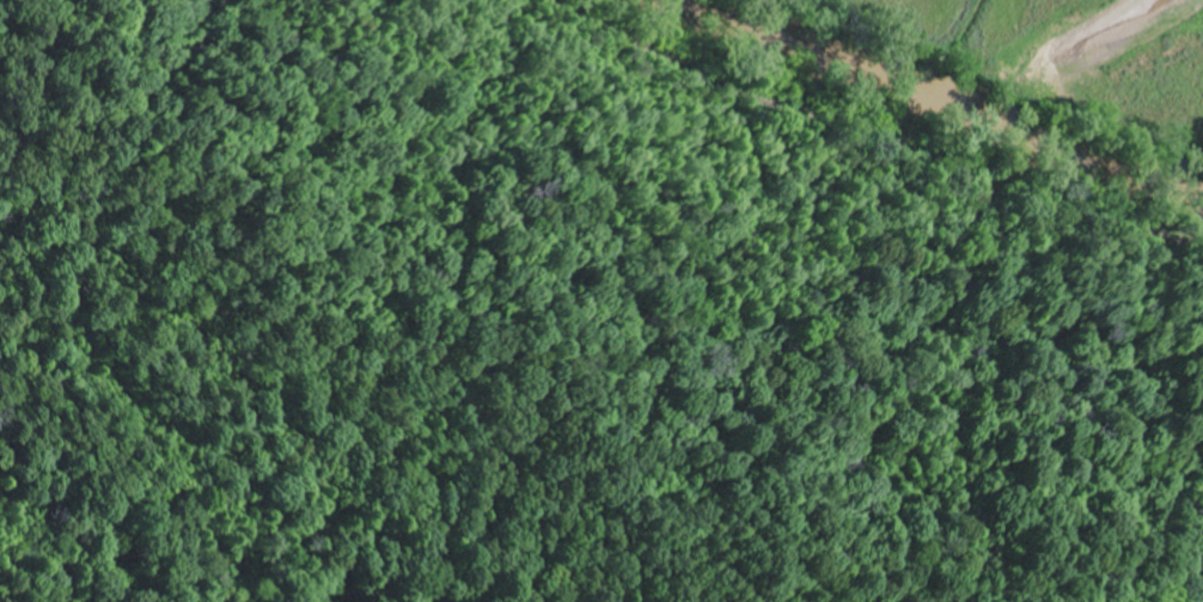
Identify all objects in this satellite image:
road: (653, 49)
river: (951, 102)

